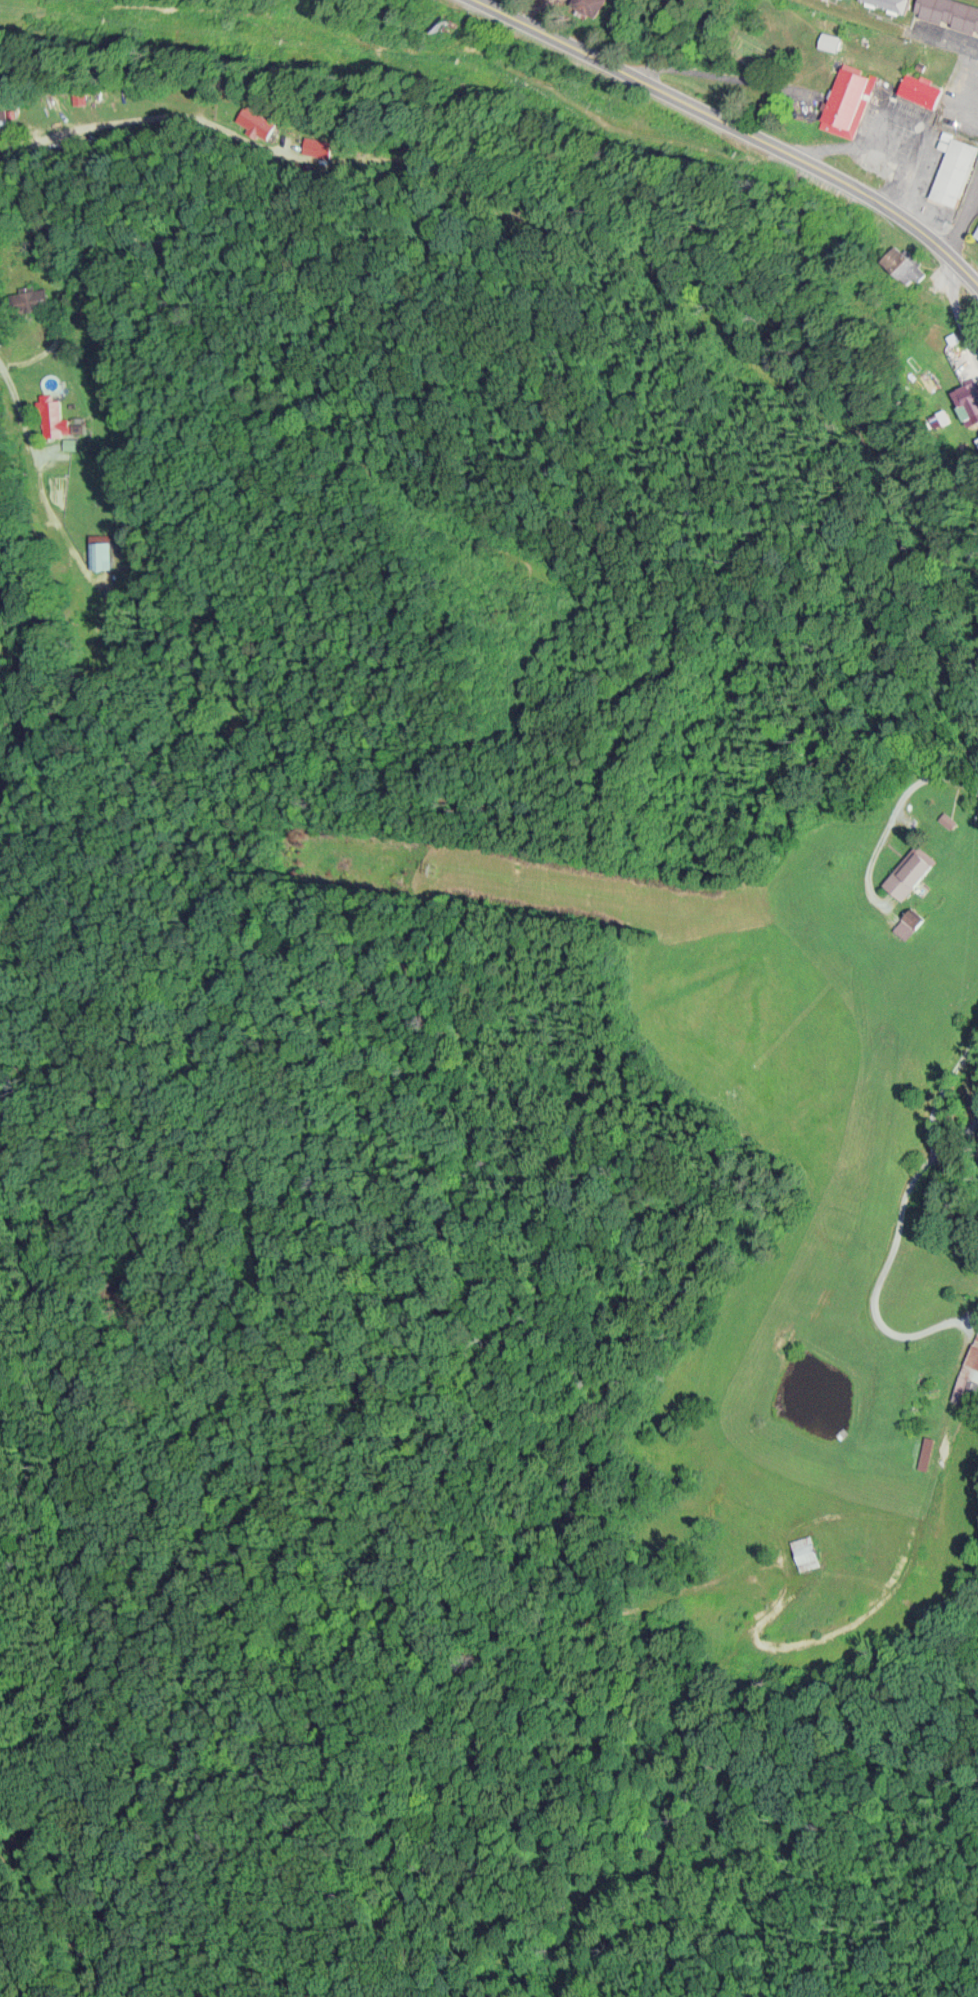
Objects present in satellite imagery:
building: (899, 4)
building: (588, 5)
building: (953, 12)
building: (925, 88)
road: (28, 97)
building: (841, 98)
building: (1, 106)
building: (253, 122)
road: (736, 128)
building: (314, 148)
building: (950, 169)
road: (965, 215)
building: (974, 234)
building: (41, 297)
road: (959, 307)
road: (8, 354)
building: (970, 395)
building: (56, 416)
road: (30, 437)
road: (65, 538)
building: (101, 553)
road: (30, 668)
road: (954, 774)
power tower: (438, 865)
building: (914, 872)
road: (960, 1120)
road: (923, 1181)
building: (971, 1380)
building: (813, 1551)

